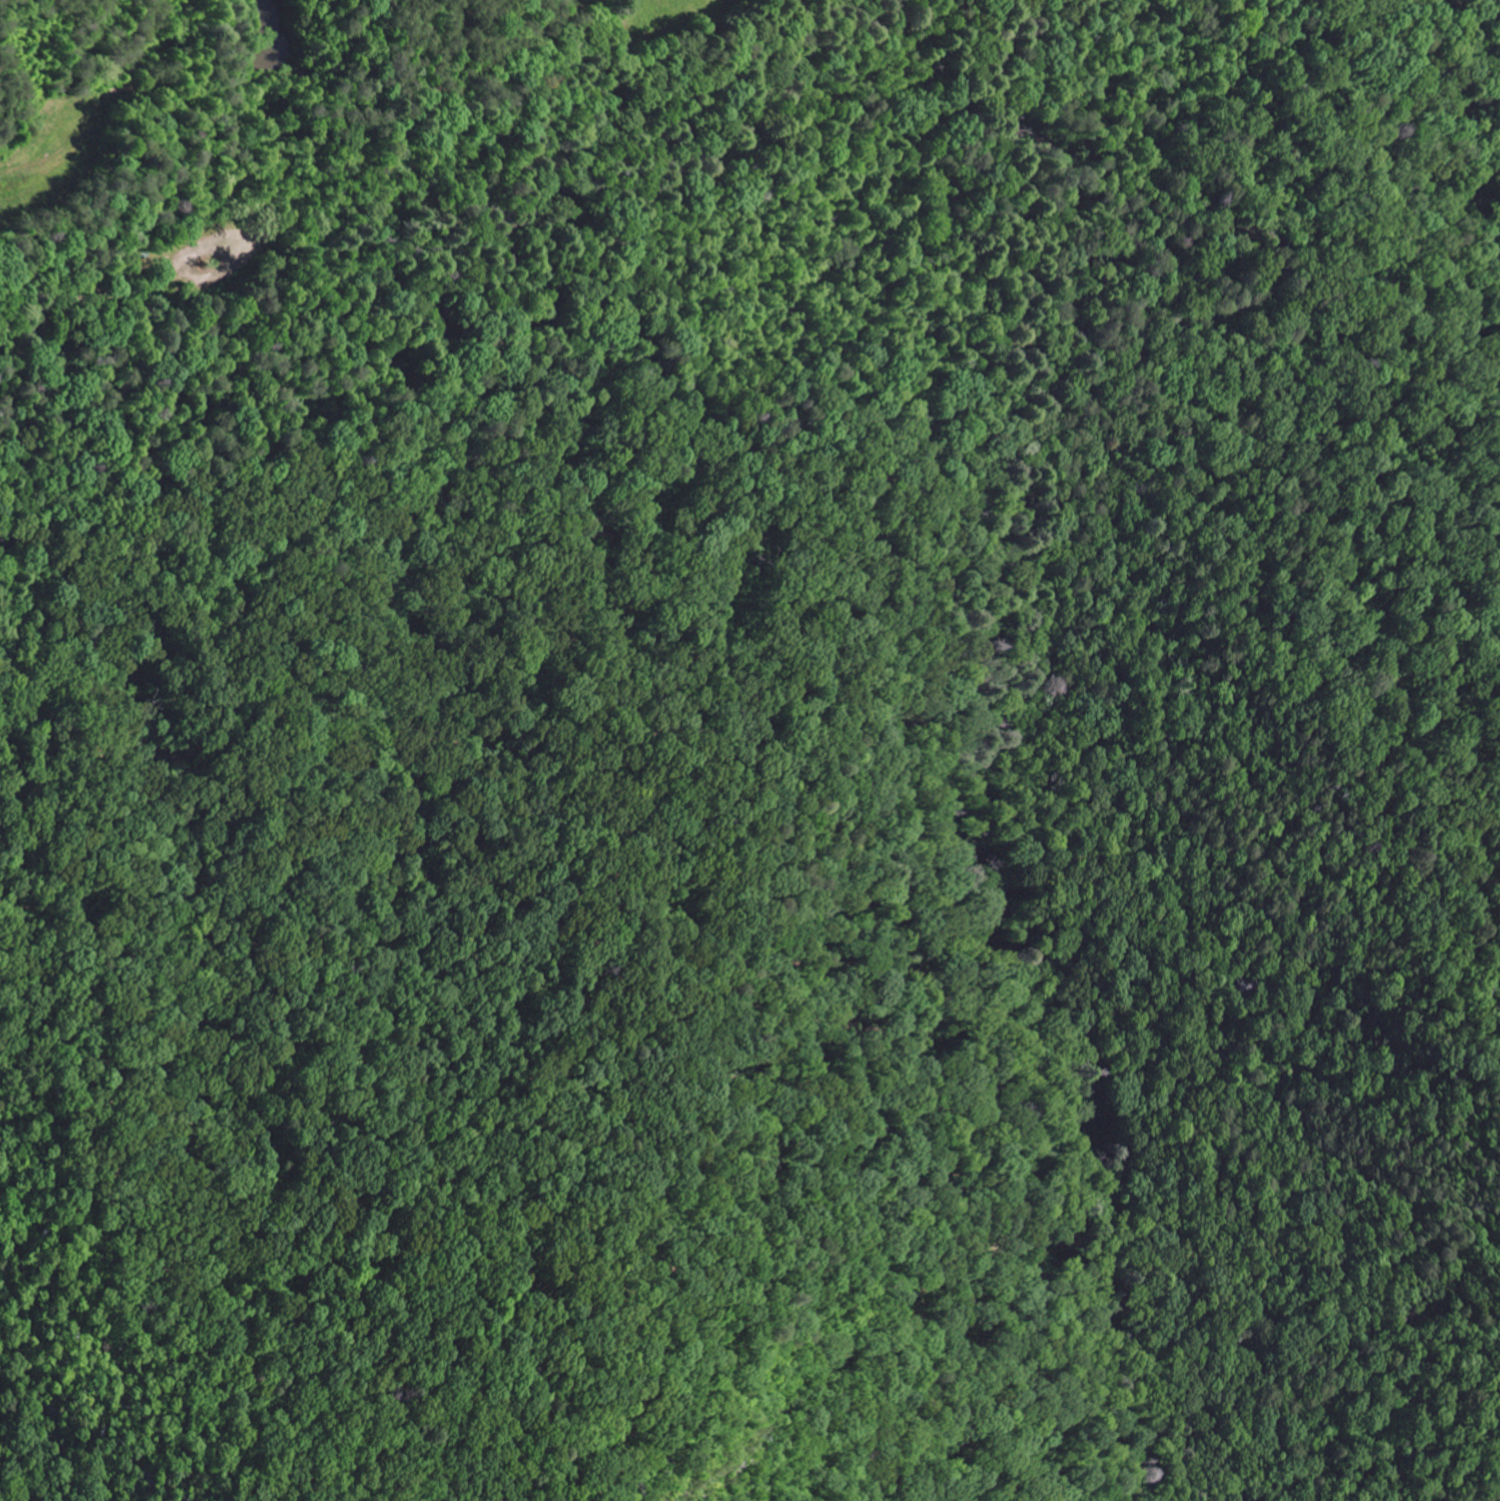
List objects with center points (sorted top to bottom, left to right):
road: (525, 94)

